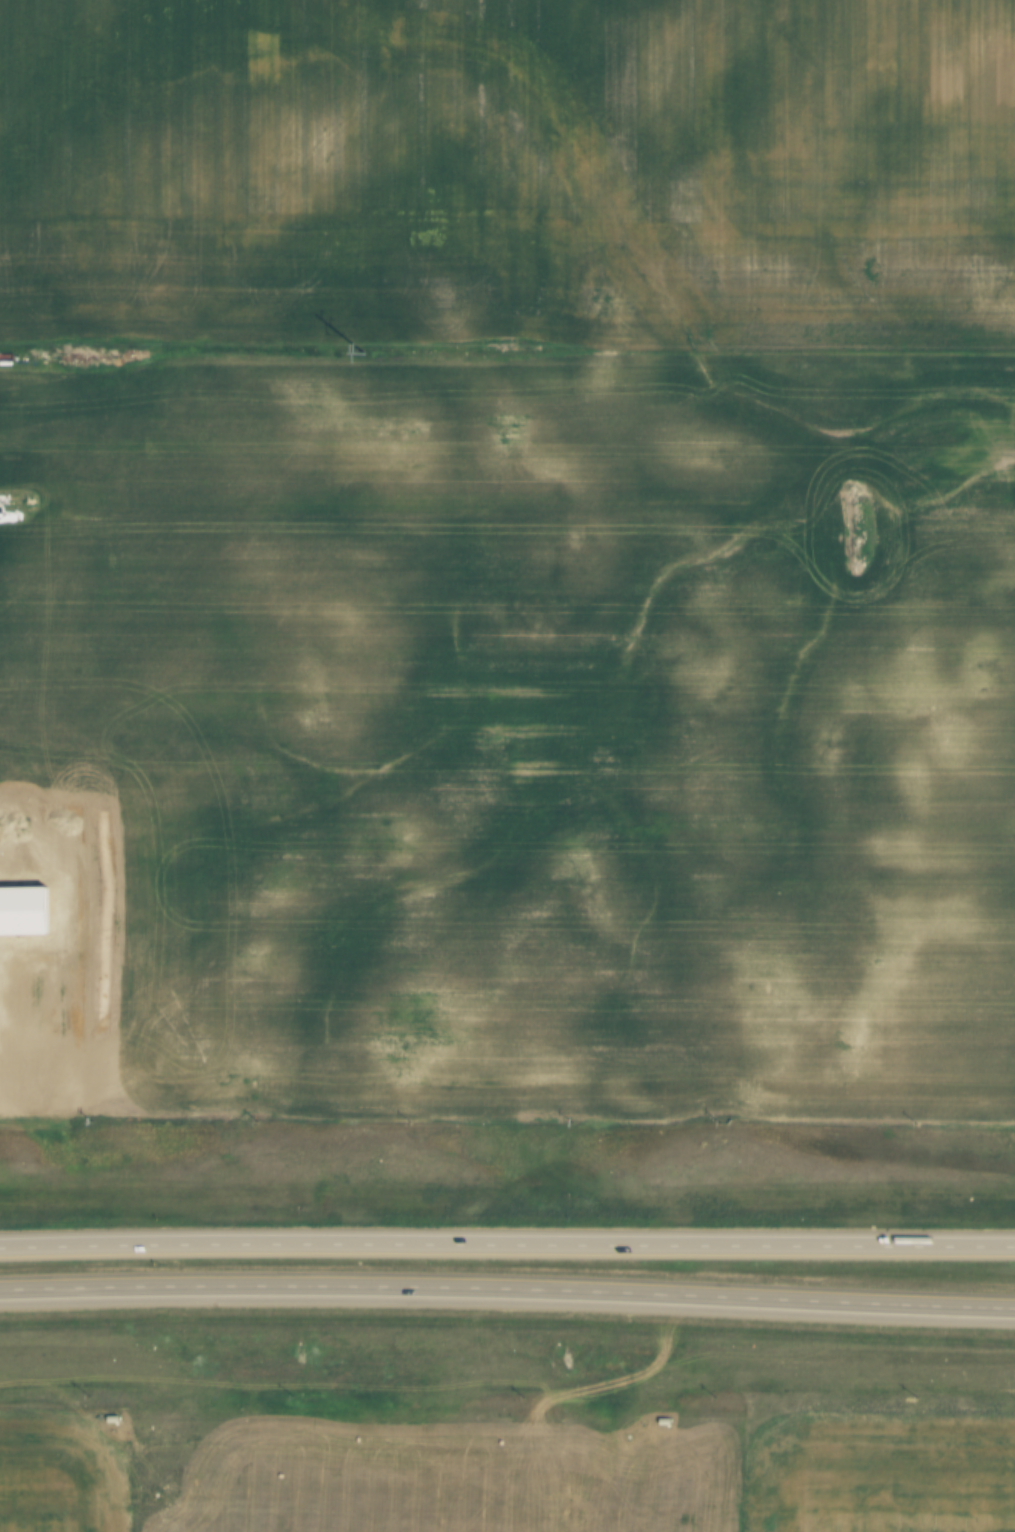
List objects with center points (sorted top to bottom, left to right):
power tower: (361, 352)
road: (507, 1243)
road: (507, 1289)

